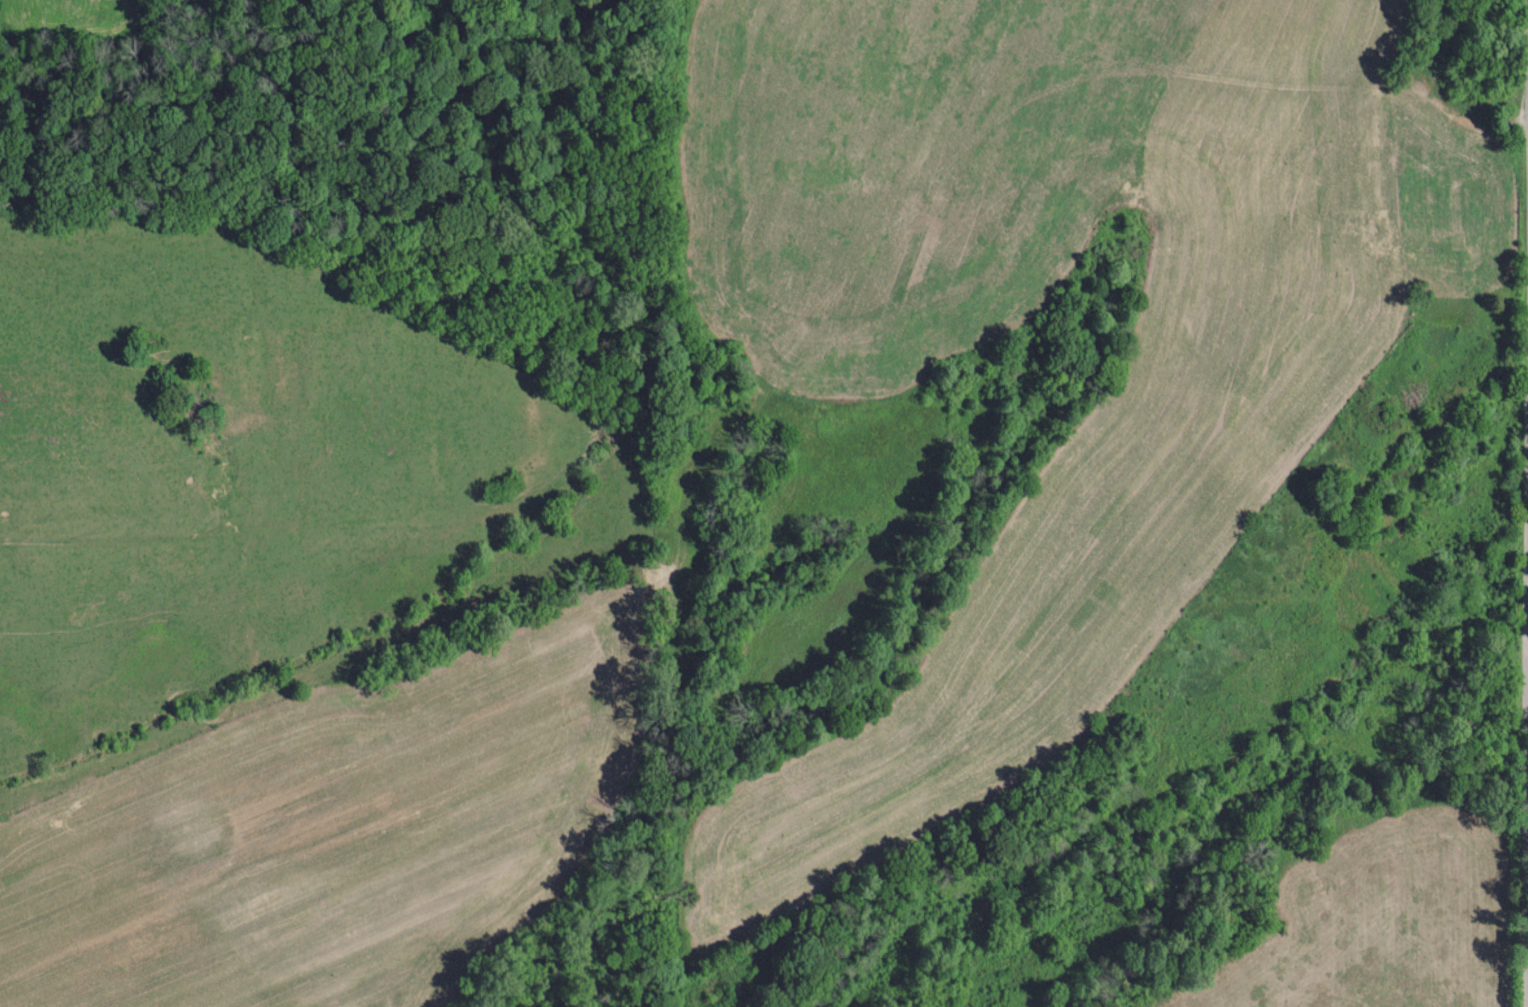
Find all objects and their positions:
road: (1519, 503)

